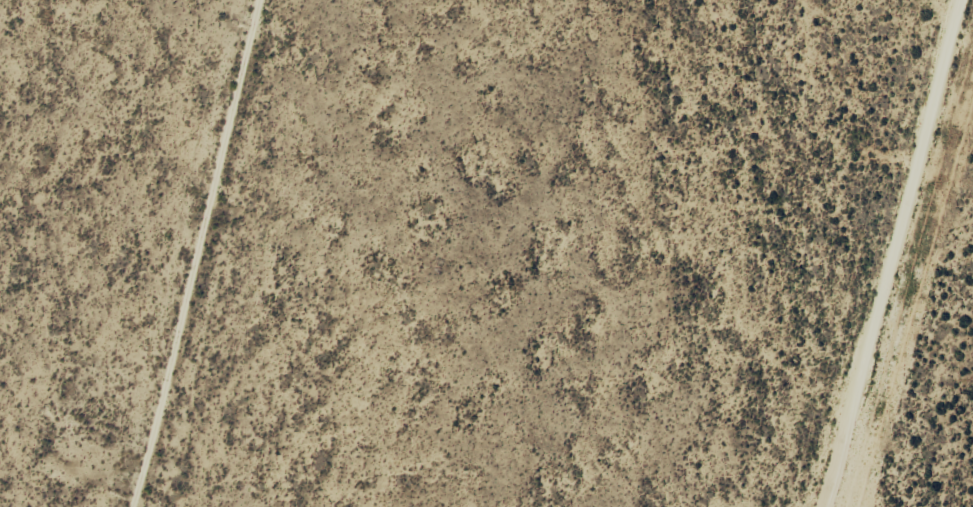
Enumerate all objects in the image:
road: (891, 253)

